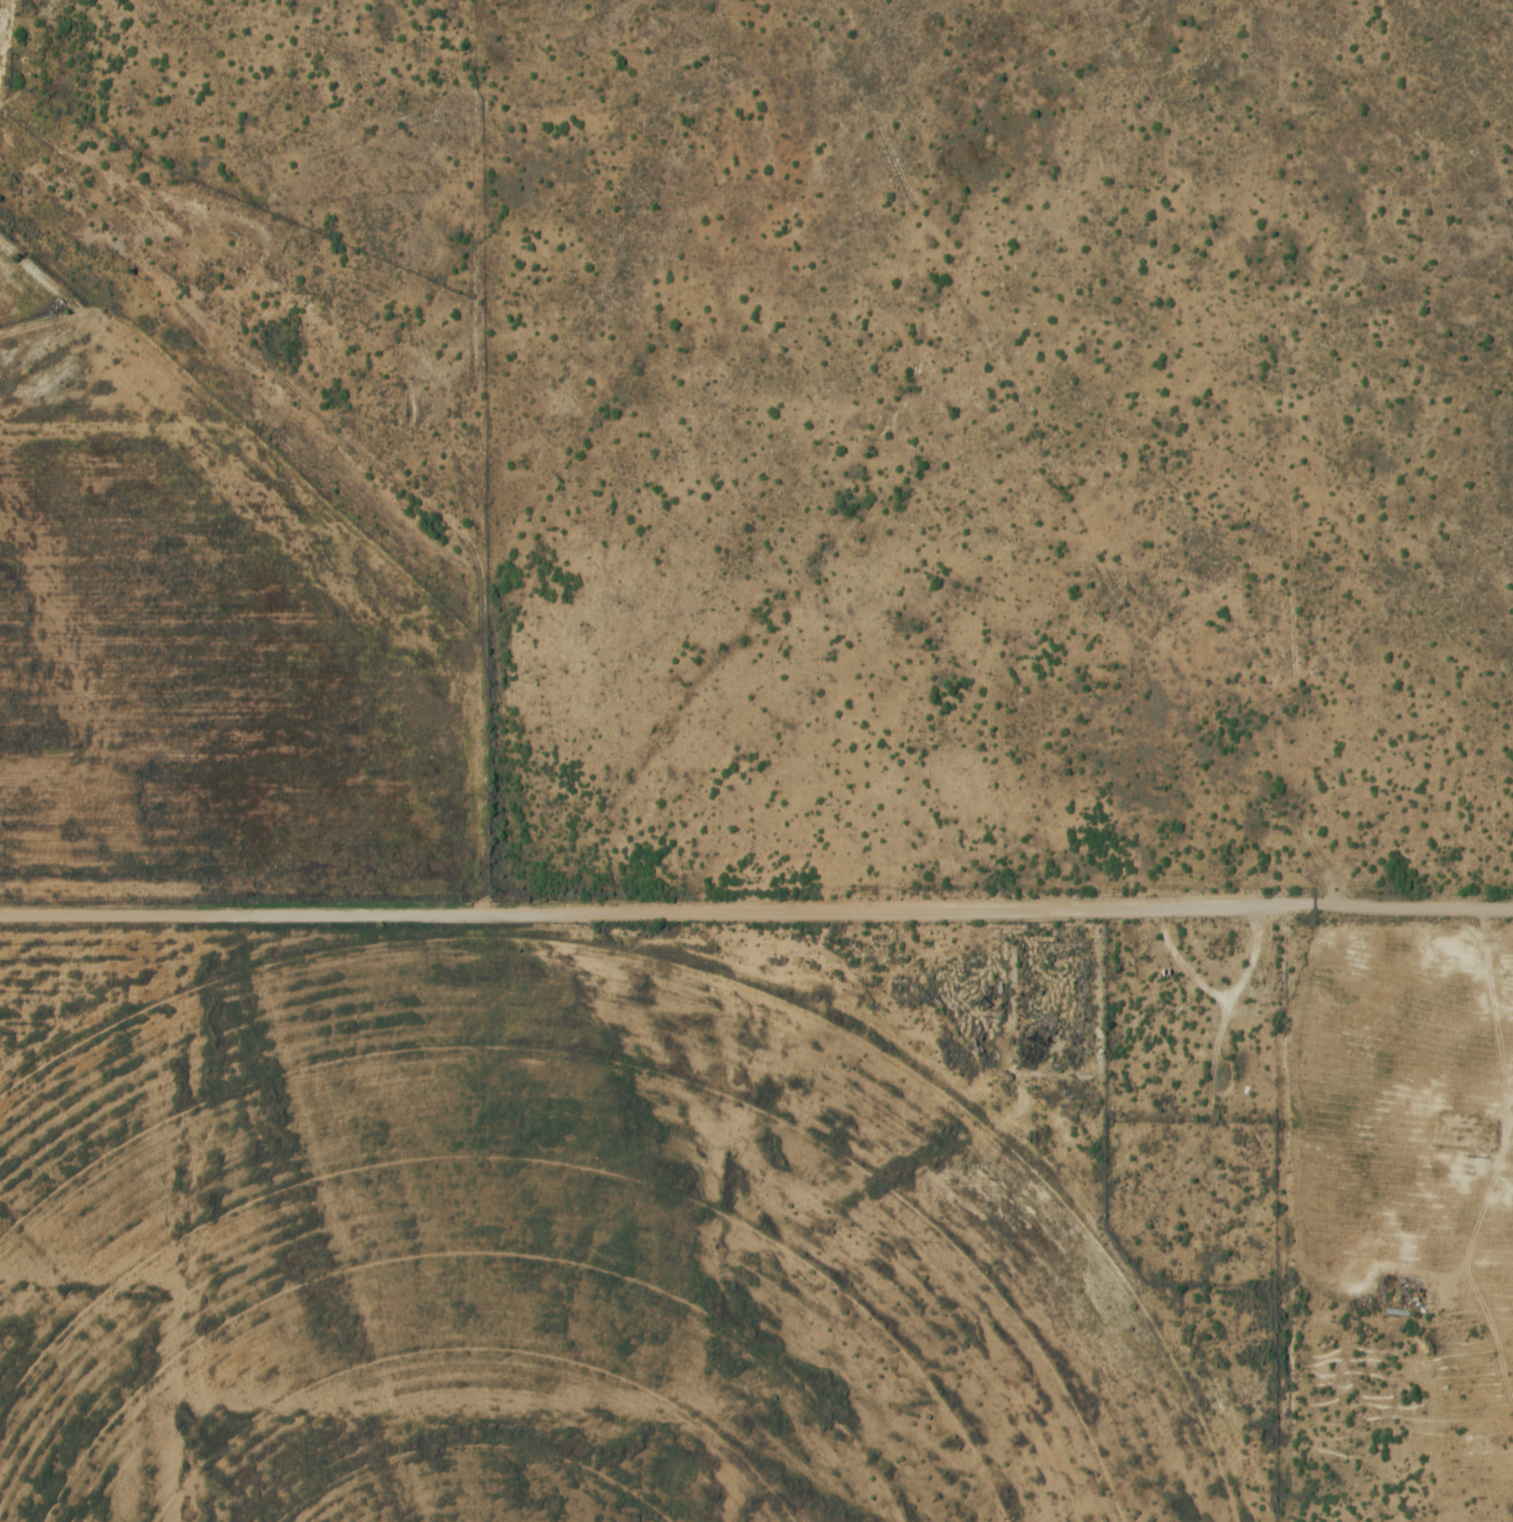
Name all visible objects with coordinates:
road: (756, 910)
road: (1314, 1212)

